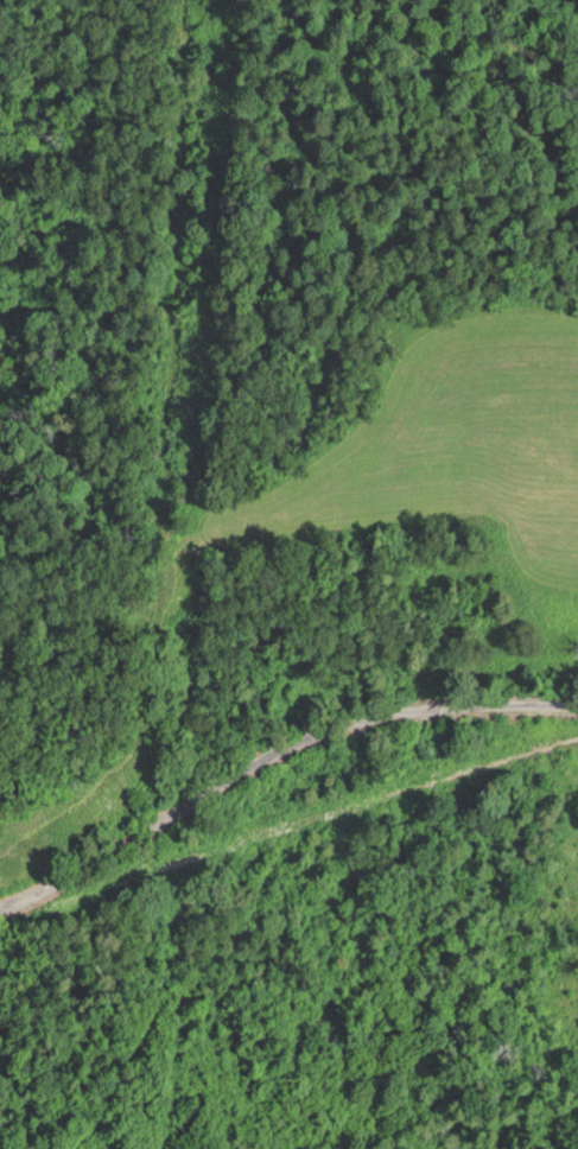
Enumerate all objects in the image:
road: (275, 744)

